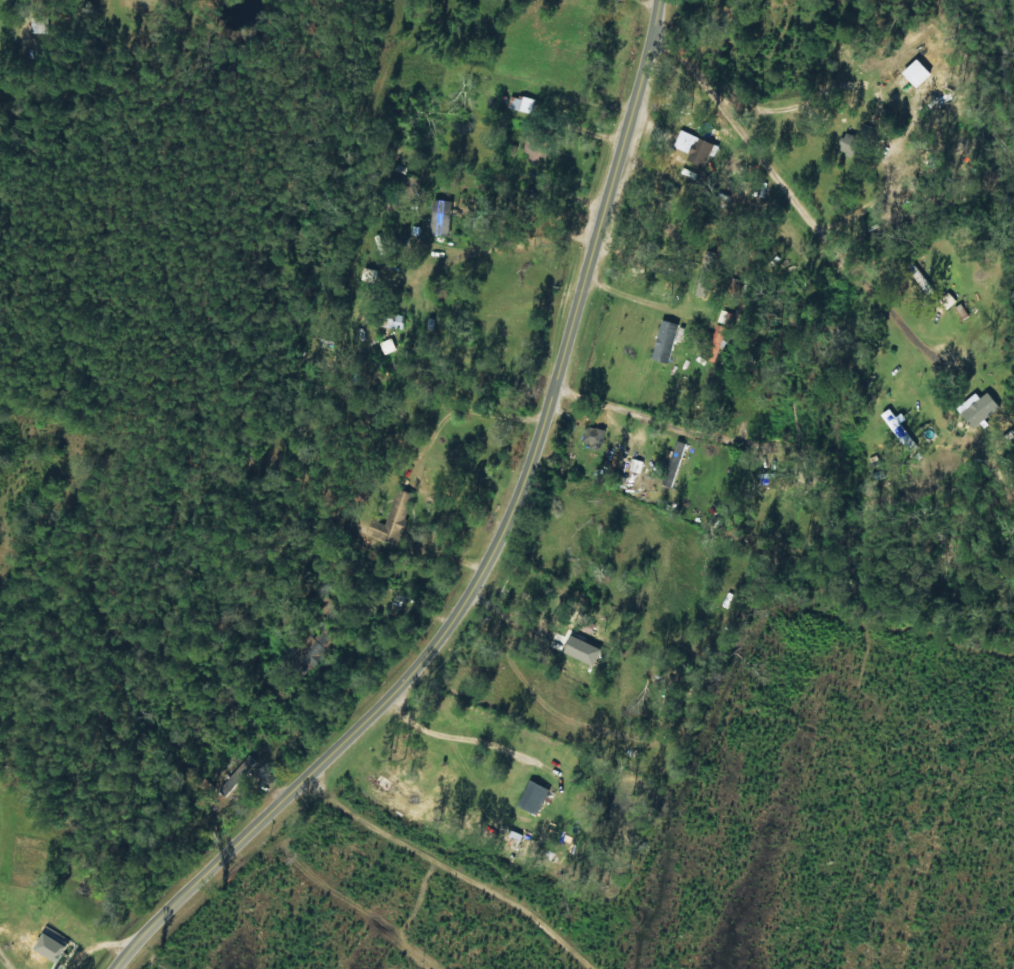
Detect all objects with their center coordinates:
road: (886, 69)
building: (521, 103)
building: (849, 142)
building: (698, 151)
building: (534, 152)
building: (439, 217)
road: (806, 221)
building: (961, 310)
building: (392, 320)
building: (663, 340)
building: (715, 344)
building: (979, 409)
building: (895, 425)
building: (593, 436)
building: (676, 455)
building: (394, 515)
road: (495, 547)
building: (532, 797)
road: (413, 878)

